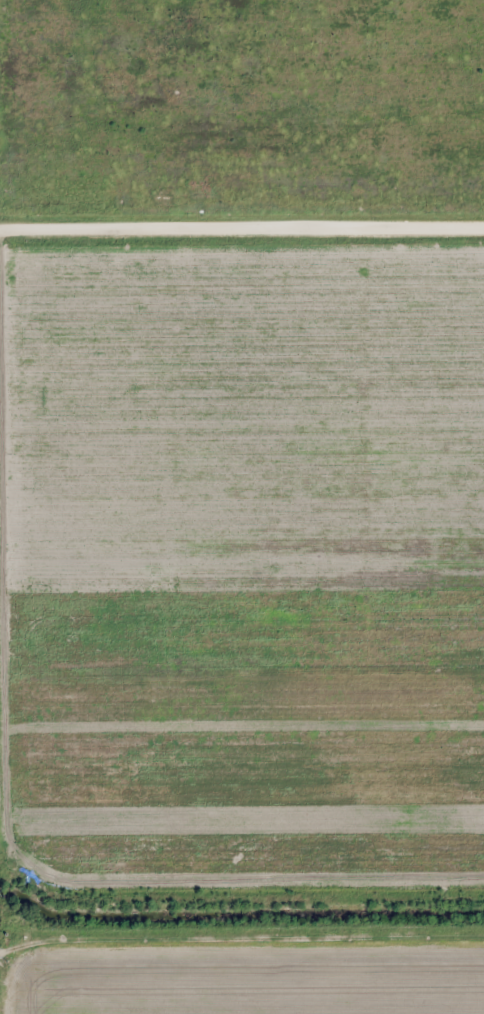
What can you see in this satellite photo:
road: (242, 228)

